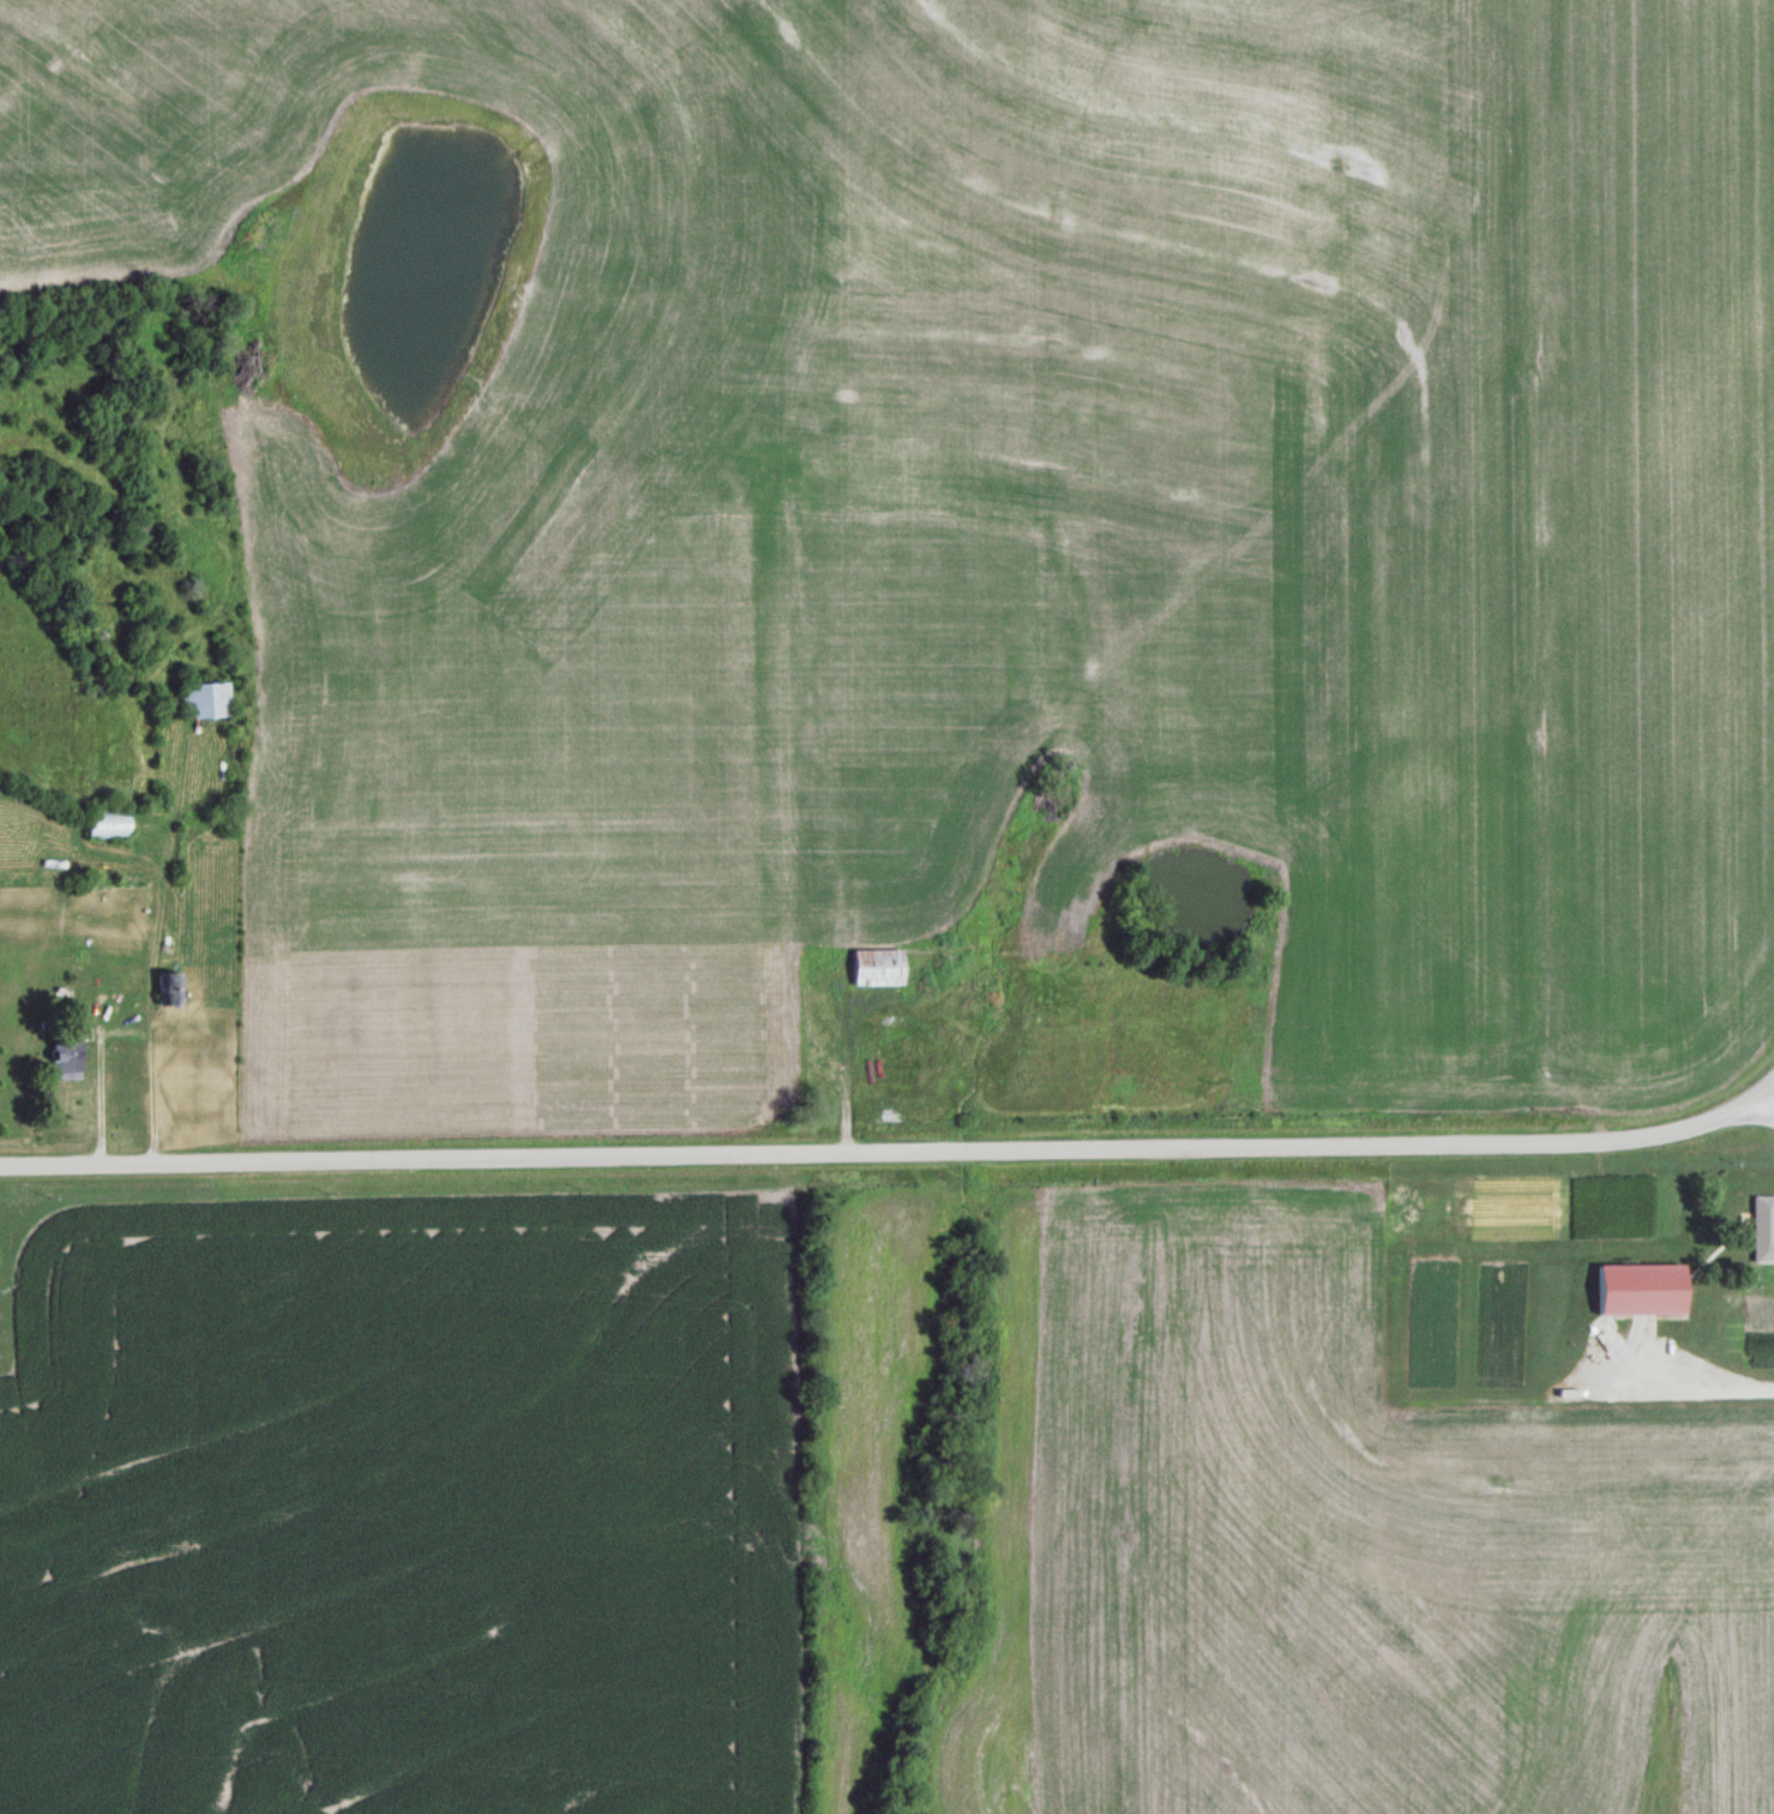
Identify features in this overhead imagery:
building: (204, 697)
building: (104, 822)
road: (161, 944)
building: (873, 966)
building: (167, 987)
building: (97, 1002)
building: (62, 1053)
road: (1770, 1097)
road: (892, 1153)
building: (1405, 1202)
building: (1762, 1227)
building: (1636, 1287)

